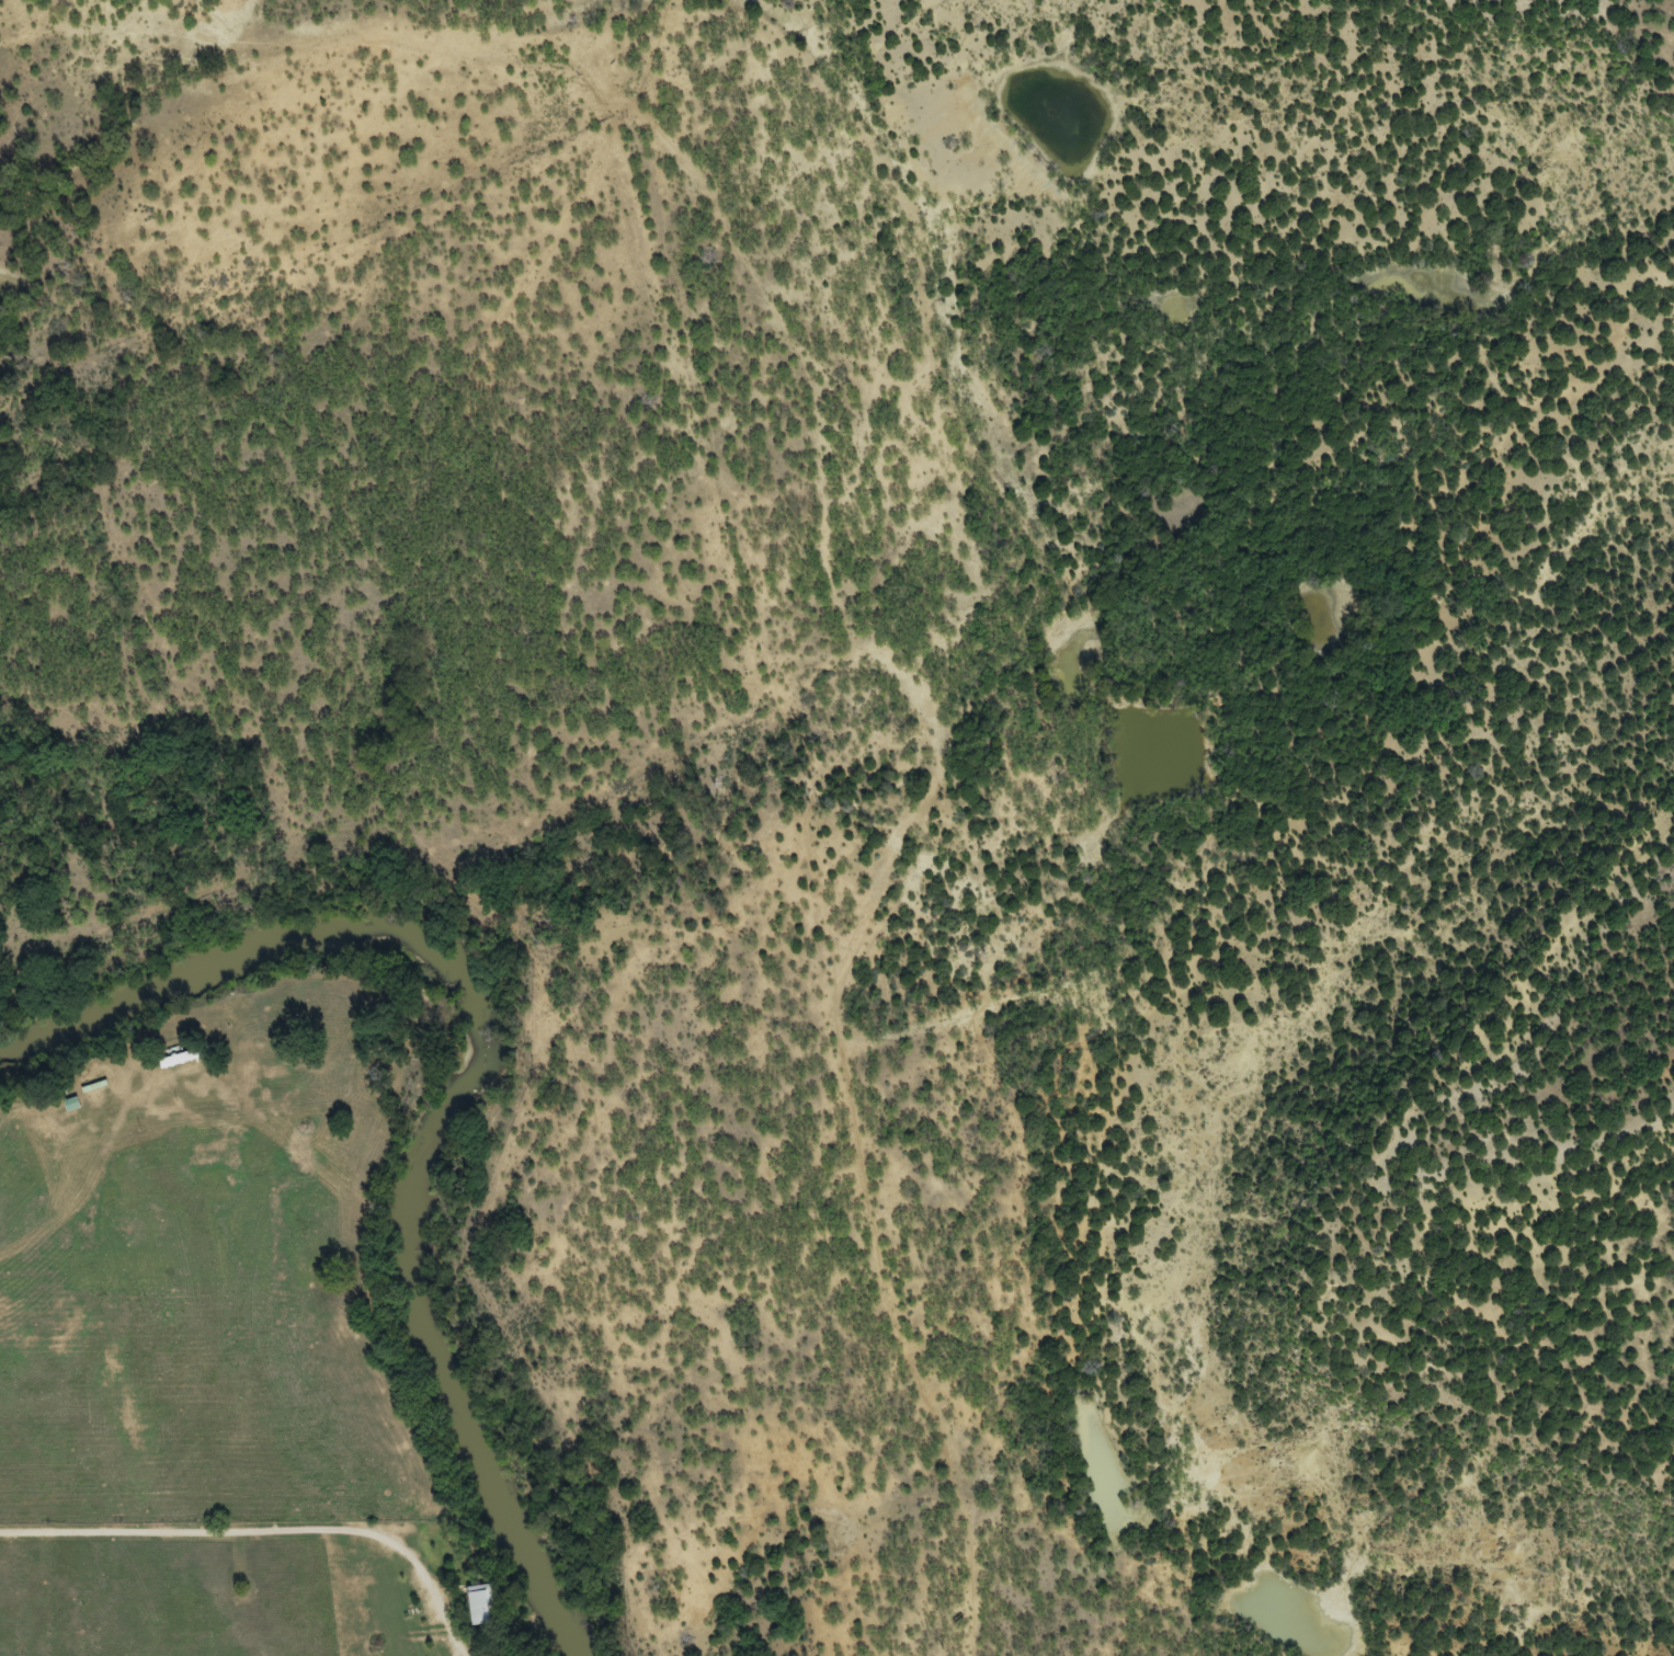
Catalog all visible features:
road: (779, 574)
building: (183, 1057)
building: (71, 1106)
building: (480, 1606)

